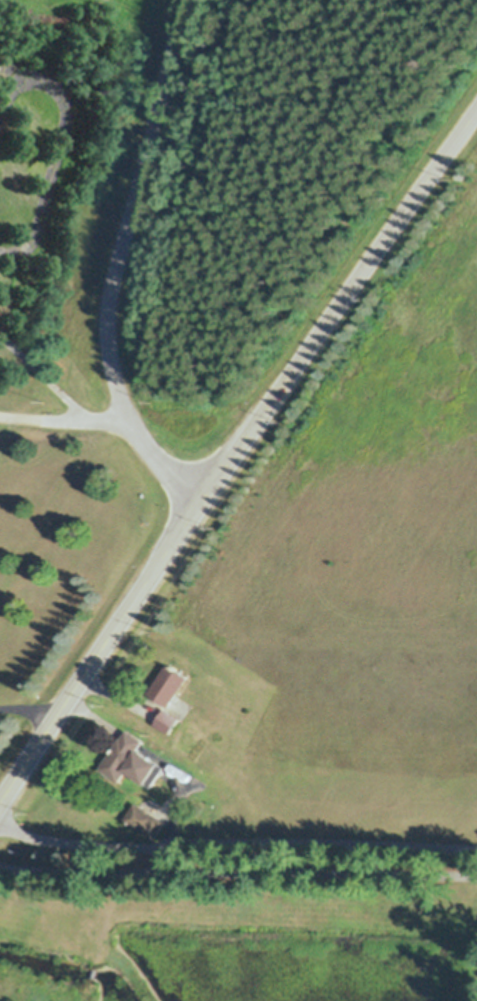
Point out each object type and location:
road: (126, 209)
road: (370, 261)
road: (43, 377)
road: (62, 418)
road: (160, 461)
road: (129, 610)
building: (166, 686)
road: (32, 706)
building: (166, 722)
building: (129, 761)
road: (236, 842)
road: (238, 869)

